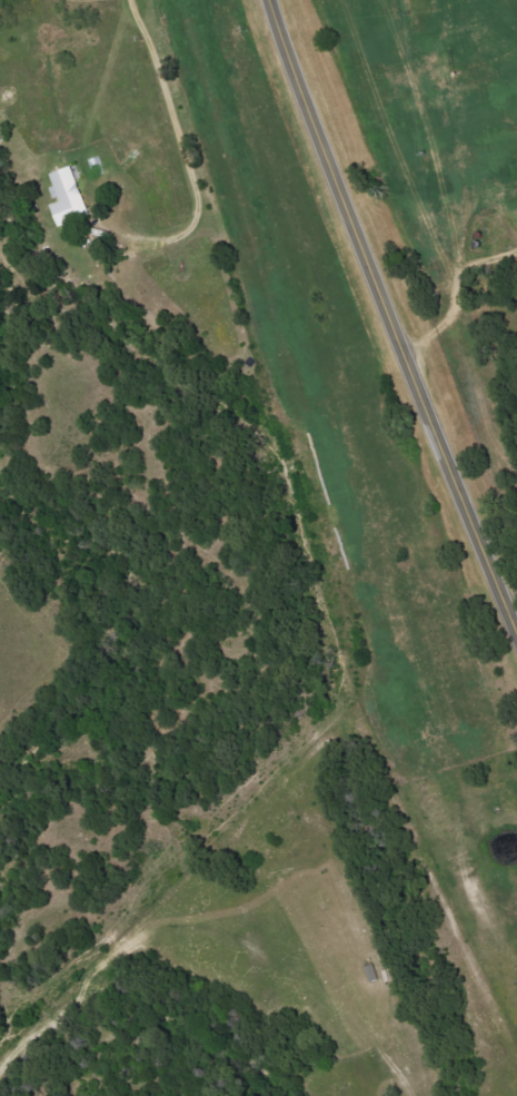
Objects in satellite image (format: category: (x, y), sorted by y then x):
road: (177, 144)
building: (69, 196)
road: (389, 317)

